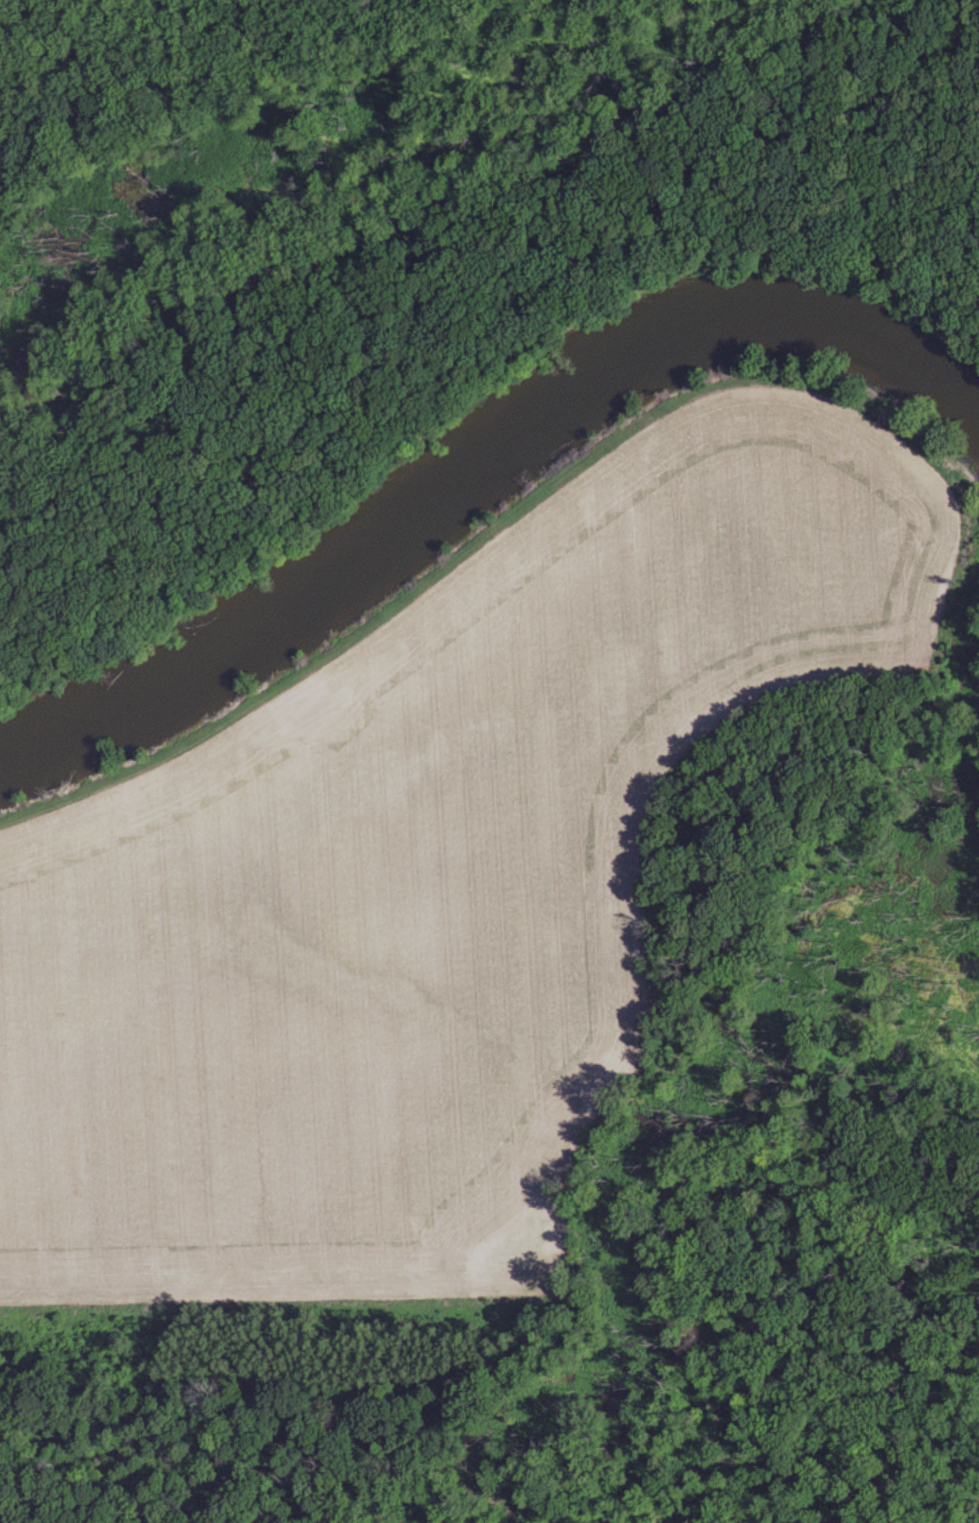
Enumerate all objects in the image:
river: (486, 460)

